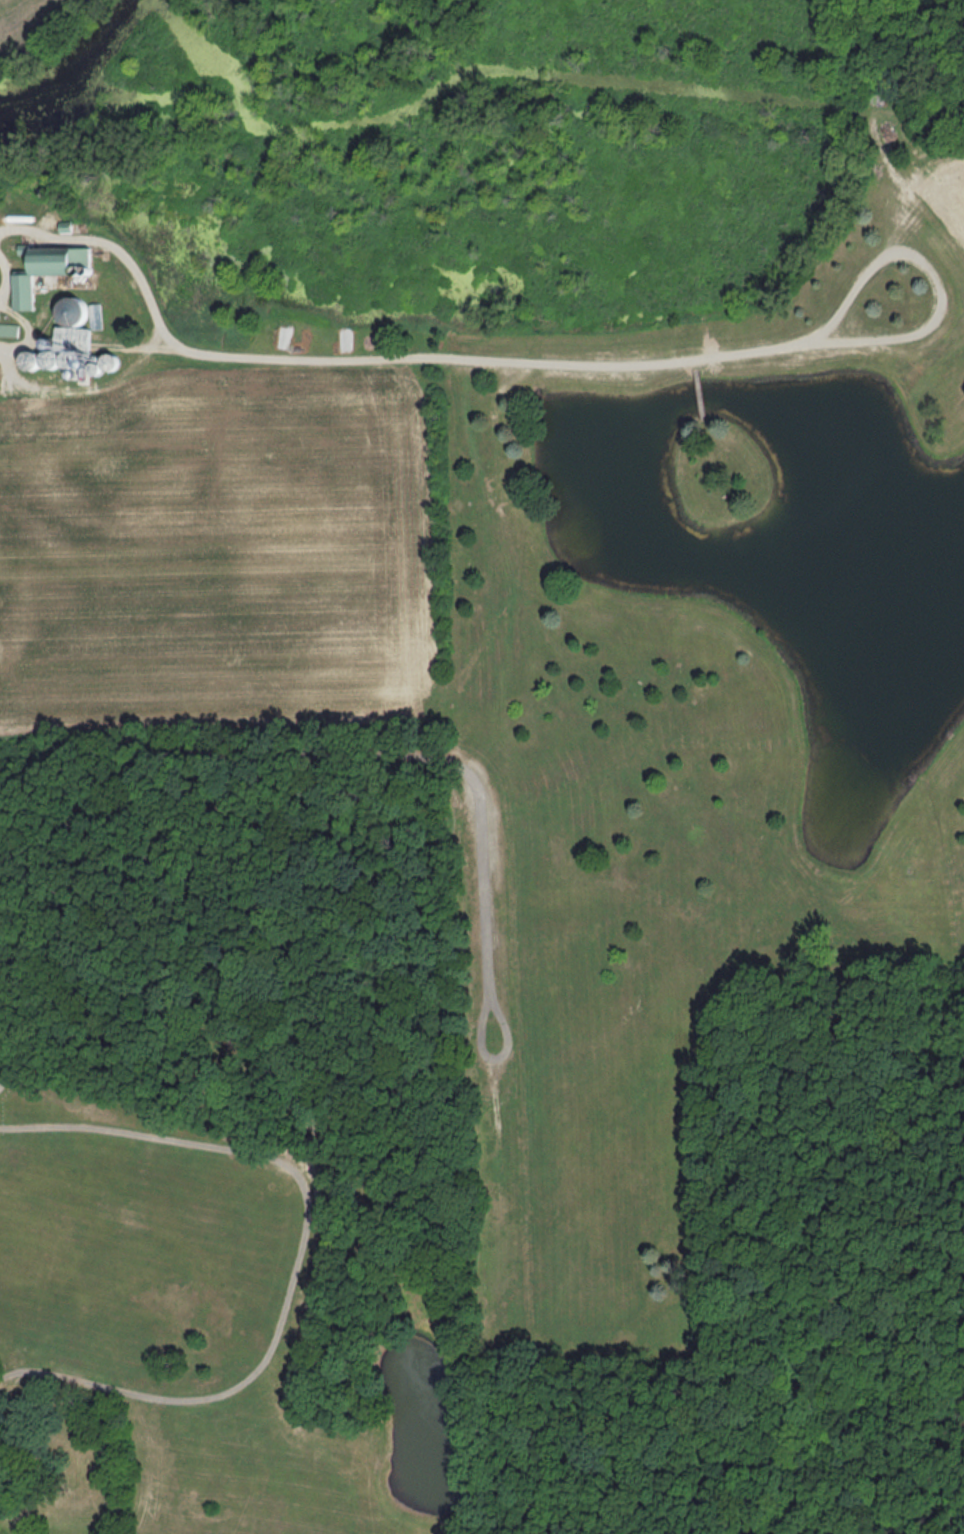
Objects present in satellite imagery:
road: (935, 267)
building: (46, 271)
building: (97, 317)
building: (8, 330)
building: (283, 337)
building: (65, 343)
road: (385, 358)
crop: (219, 553)
road: (257, 759)
road: (298, 1259)

